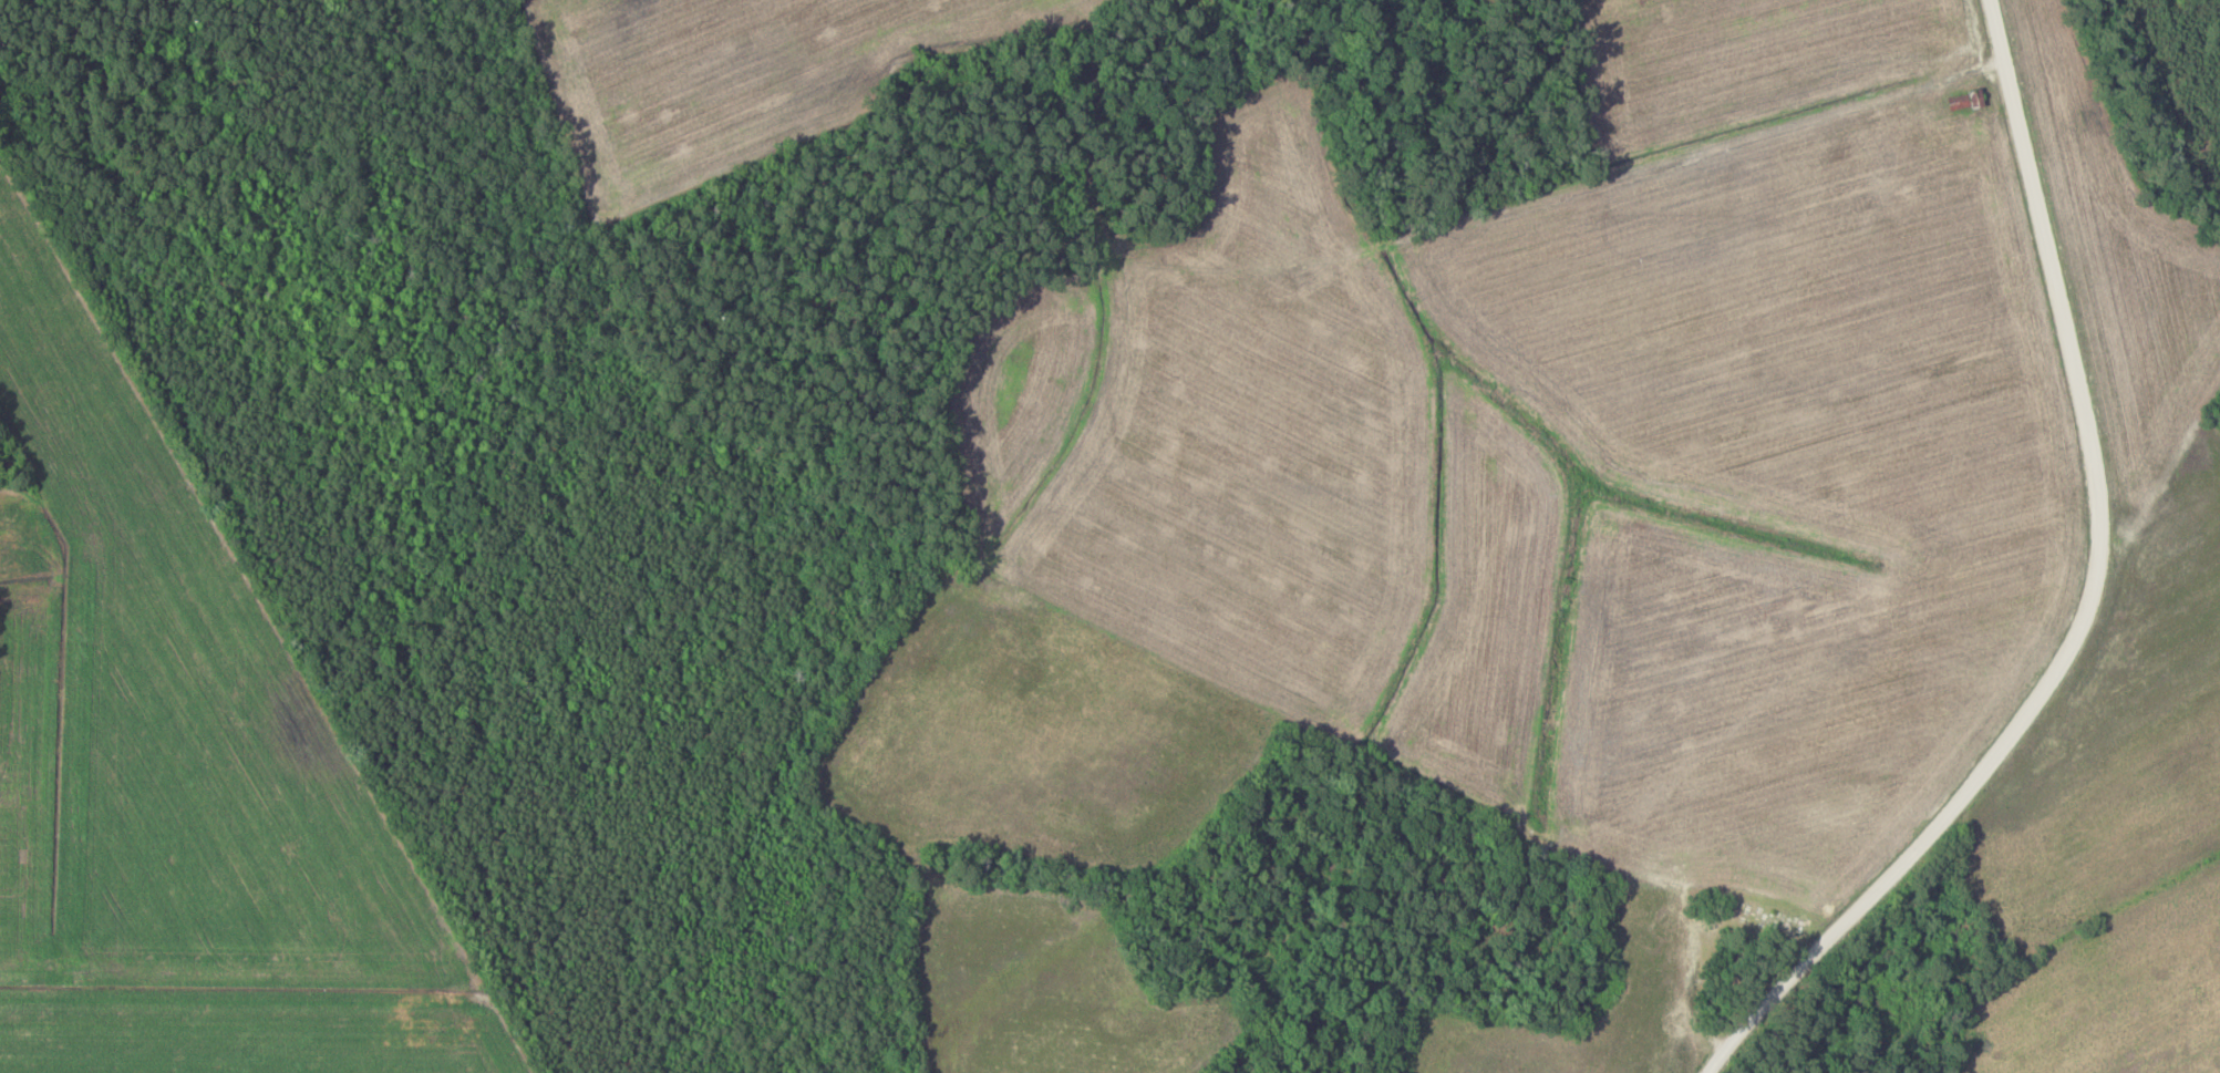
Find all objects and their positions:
road: (2086, 599)
park: (1752, 914)

